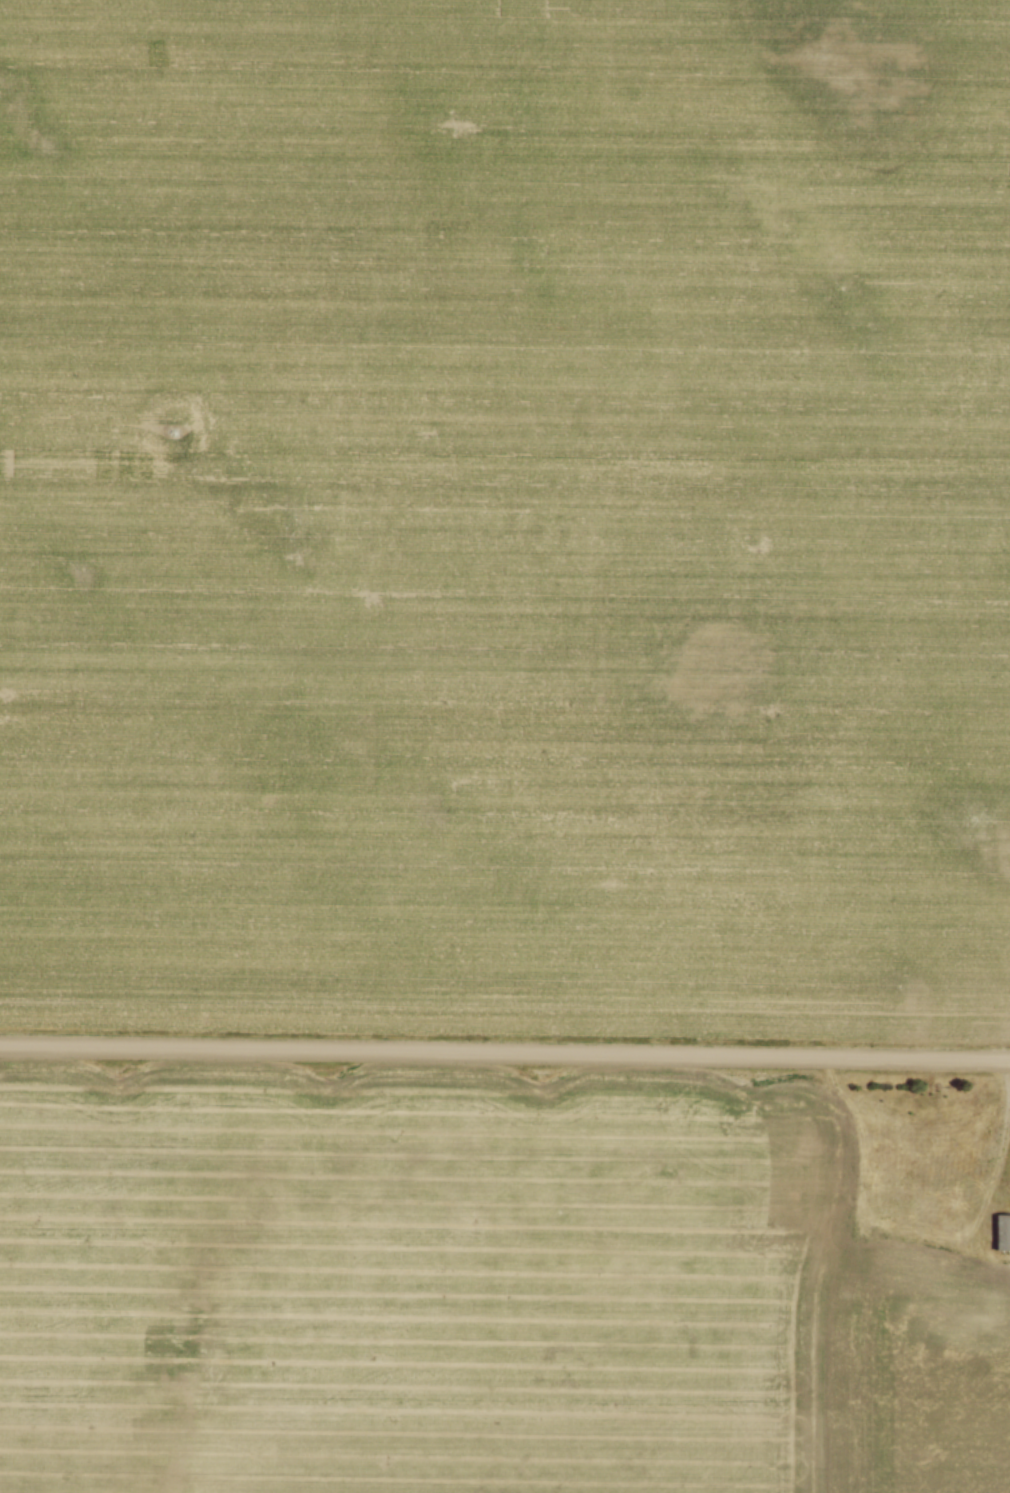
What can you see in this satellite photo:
crop: (506, 516)
road: (505, 1051)
road: (1000, 1153)
building: (1003, 1231)
crop: (502, 1285)

